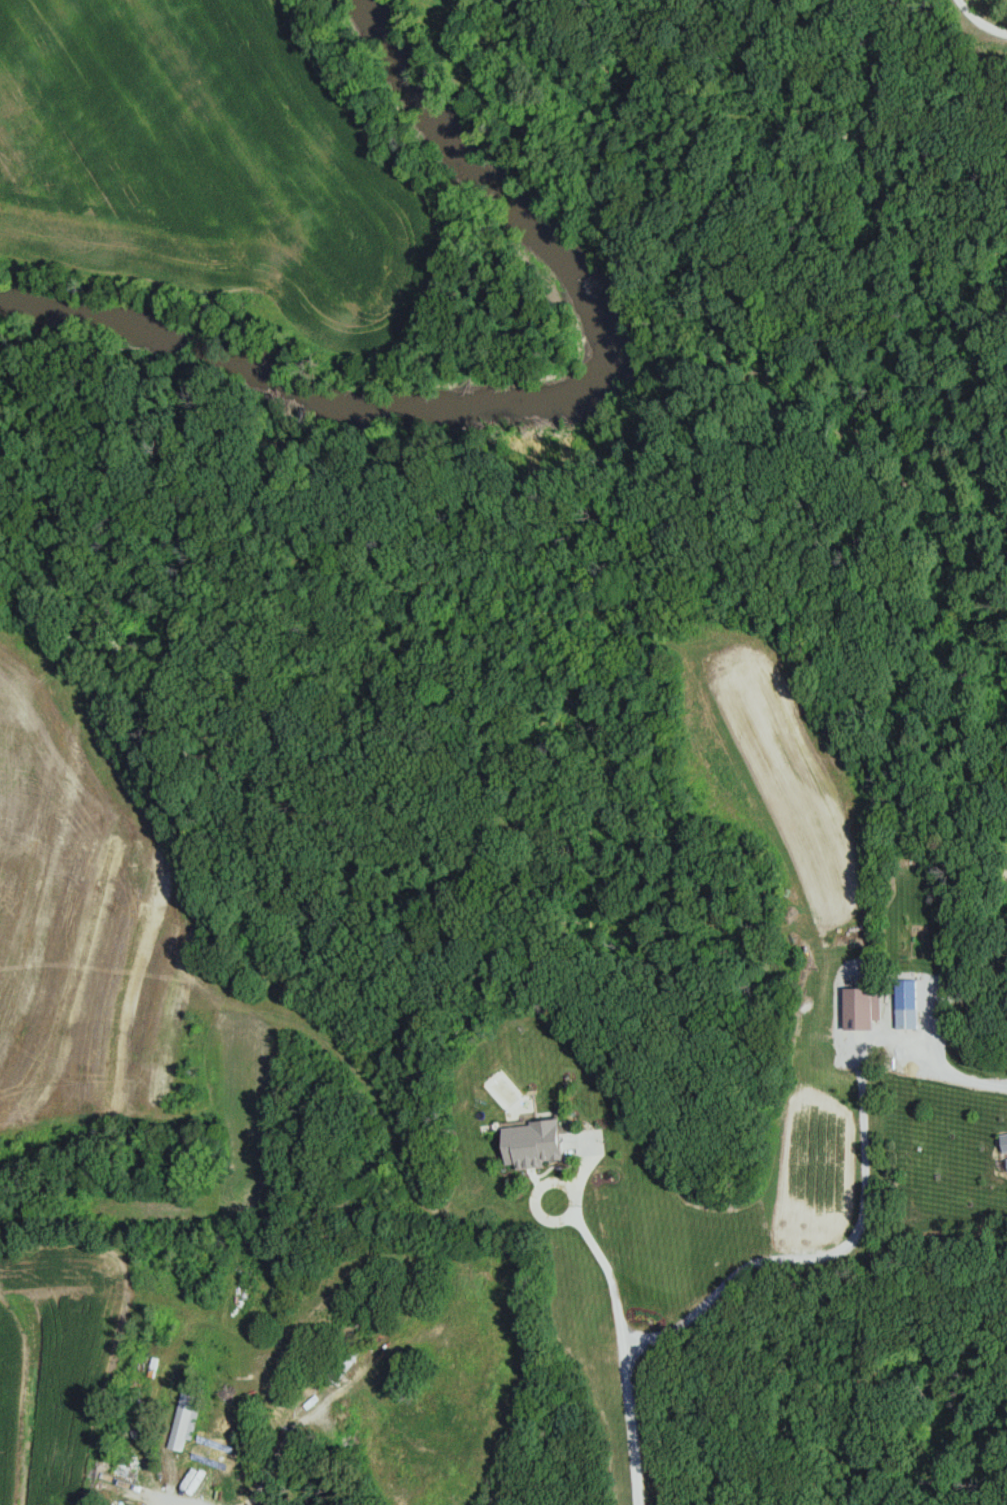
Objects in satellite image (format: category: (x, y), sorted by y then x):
road: (980, 21)
river: (523, 401)
building: (861, 1008)
building: (907, 1019)
building: (1005, 1143)
building: (534, 1144)
road: (829, 1256)
building: (306, 1401)
building: (187, 1416)

